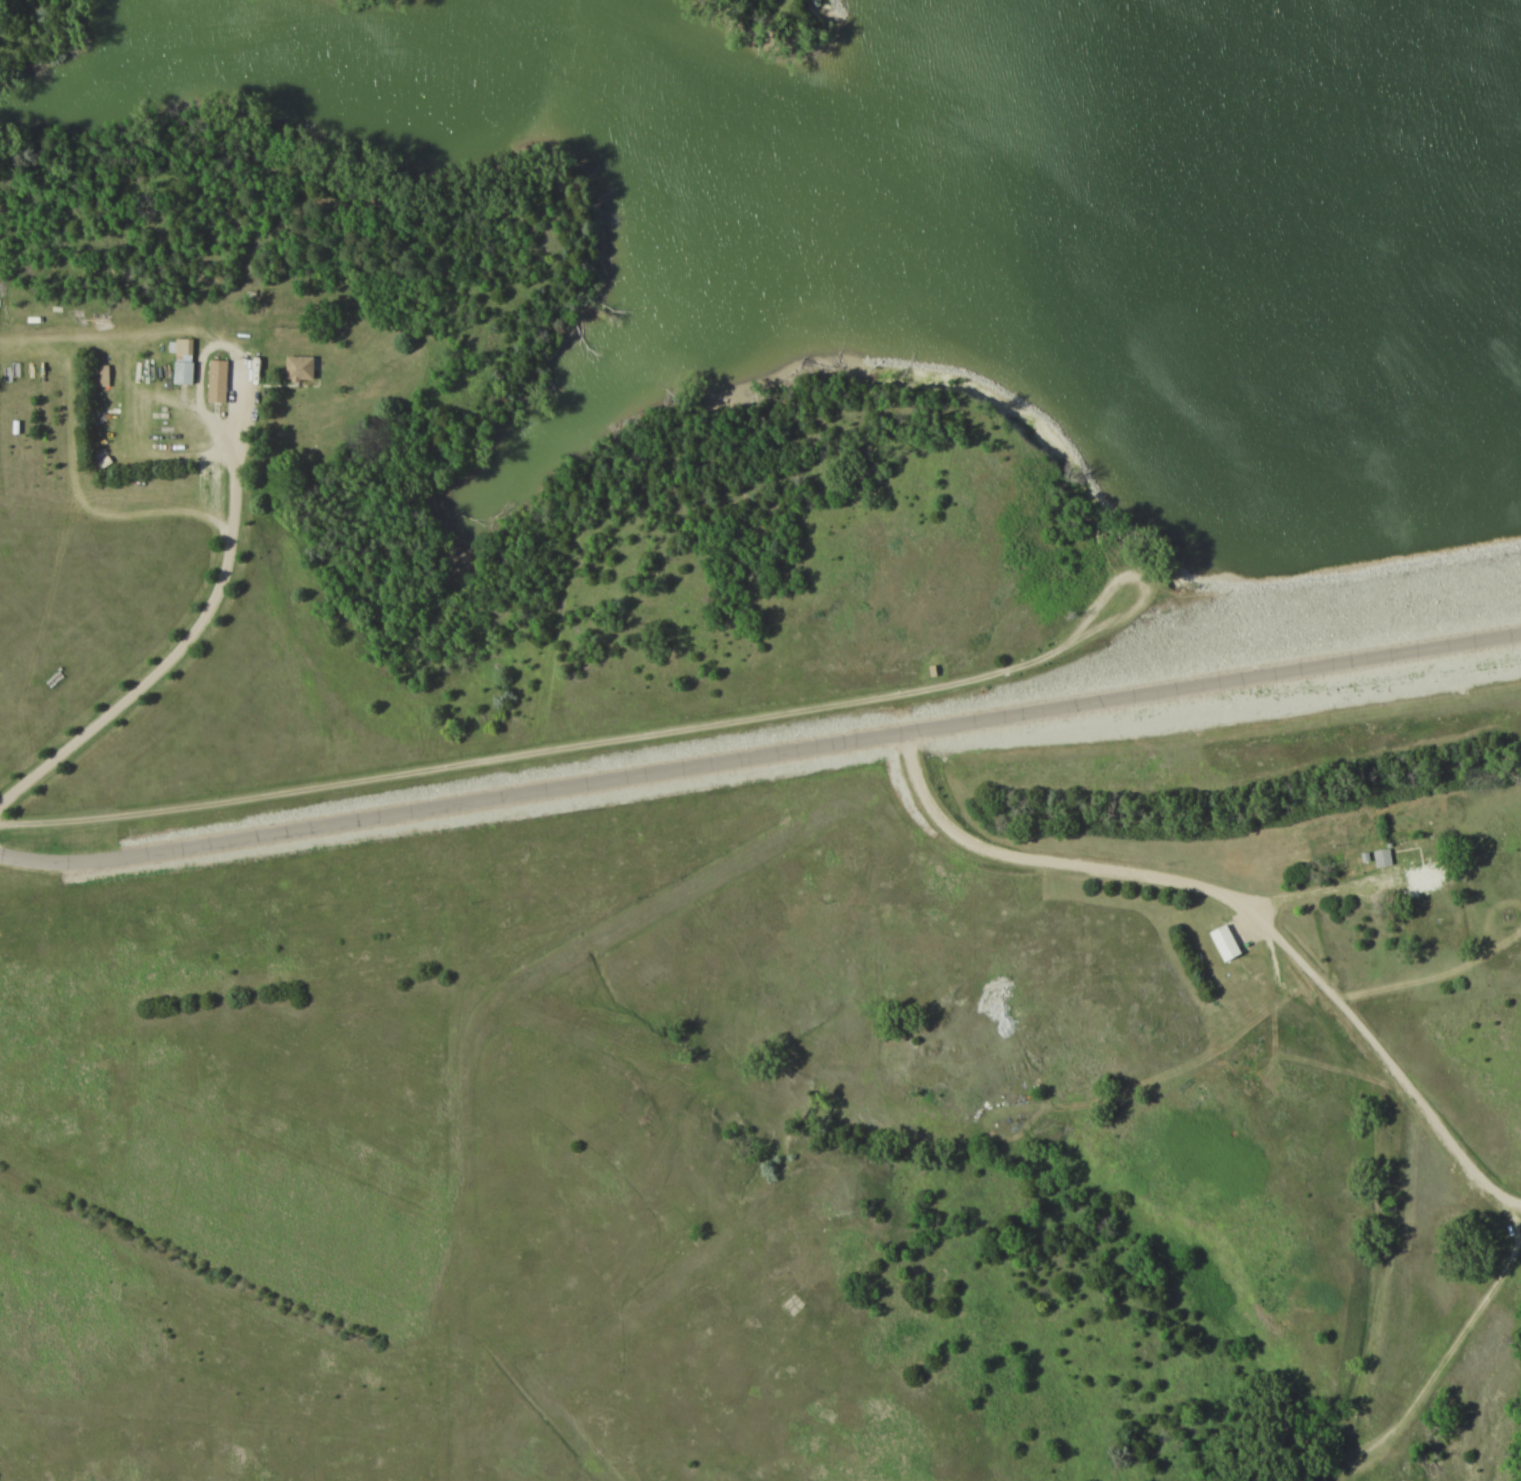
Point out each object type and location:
building: (447, 25)
building: (183, 345)
building: (298, 366)
building: (182, 371)
building: (102, 375)
building: (216, 378)
dam: (1381, 555)
road: (194, 635)
park: (760, 740)
road: (820, 745)
road: (568, 751)
building: (1381, 857)
road: (59, 866)
building: (1424, 878)
road: (1298, 899)
road: (1238, 907)
building: (1224, 941)
road: (1440, 1363)

